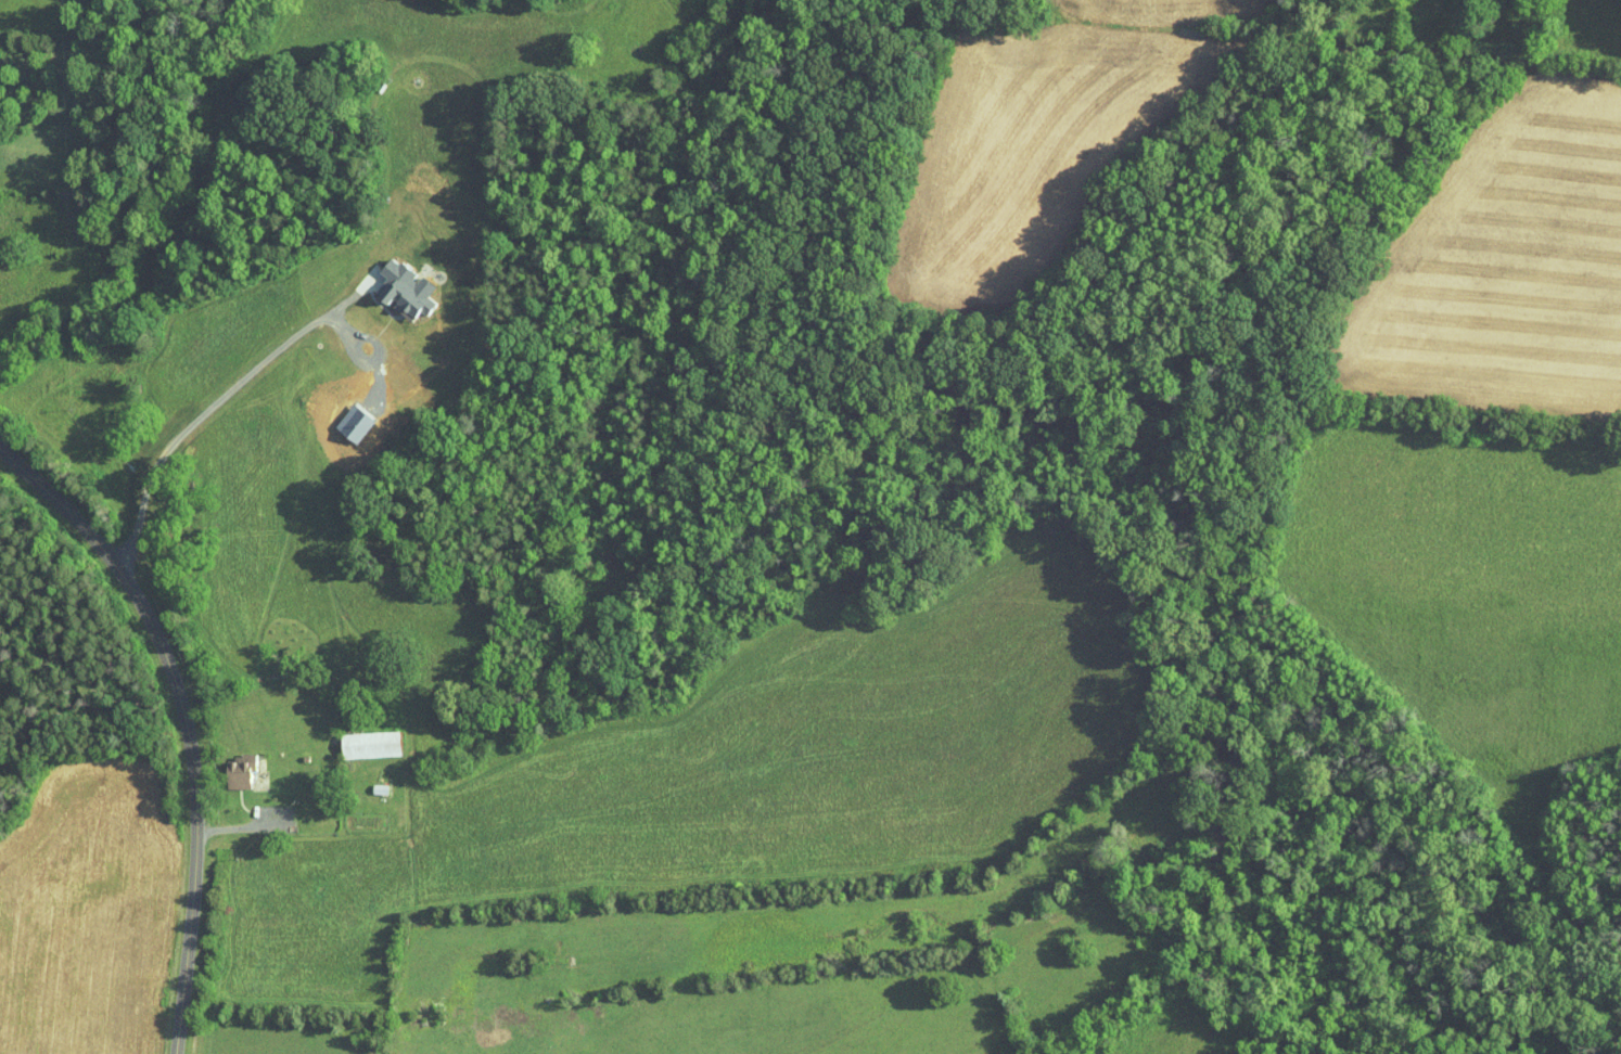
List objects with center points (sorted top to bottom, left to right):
building: (390, 282)
road: (187, 411)
road: (184, 721)
building: (356, 738)
building: (226, 766)
road: (295, 819)

